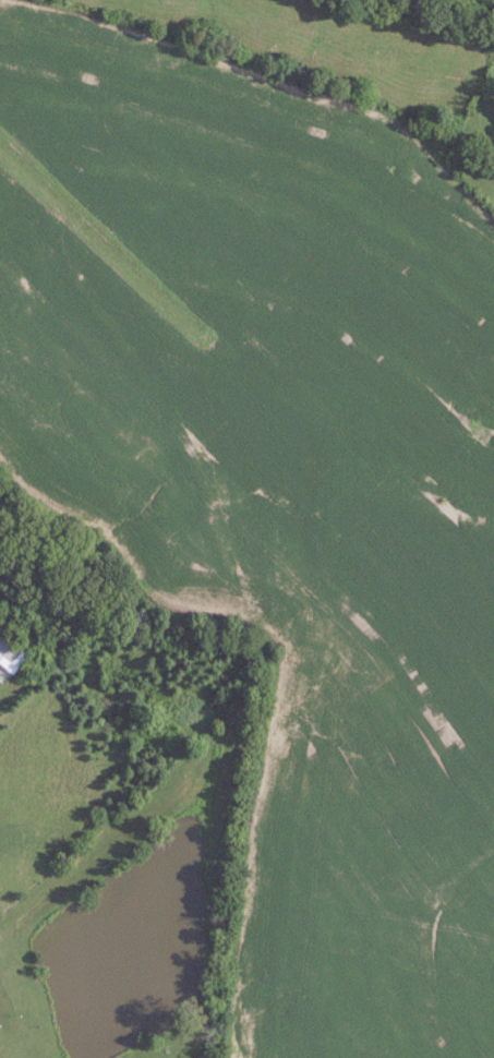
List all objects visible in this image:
building: (12, 650)

